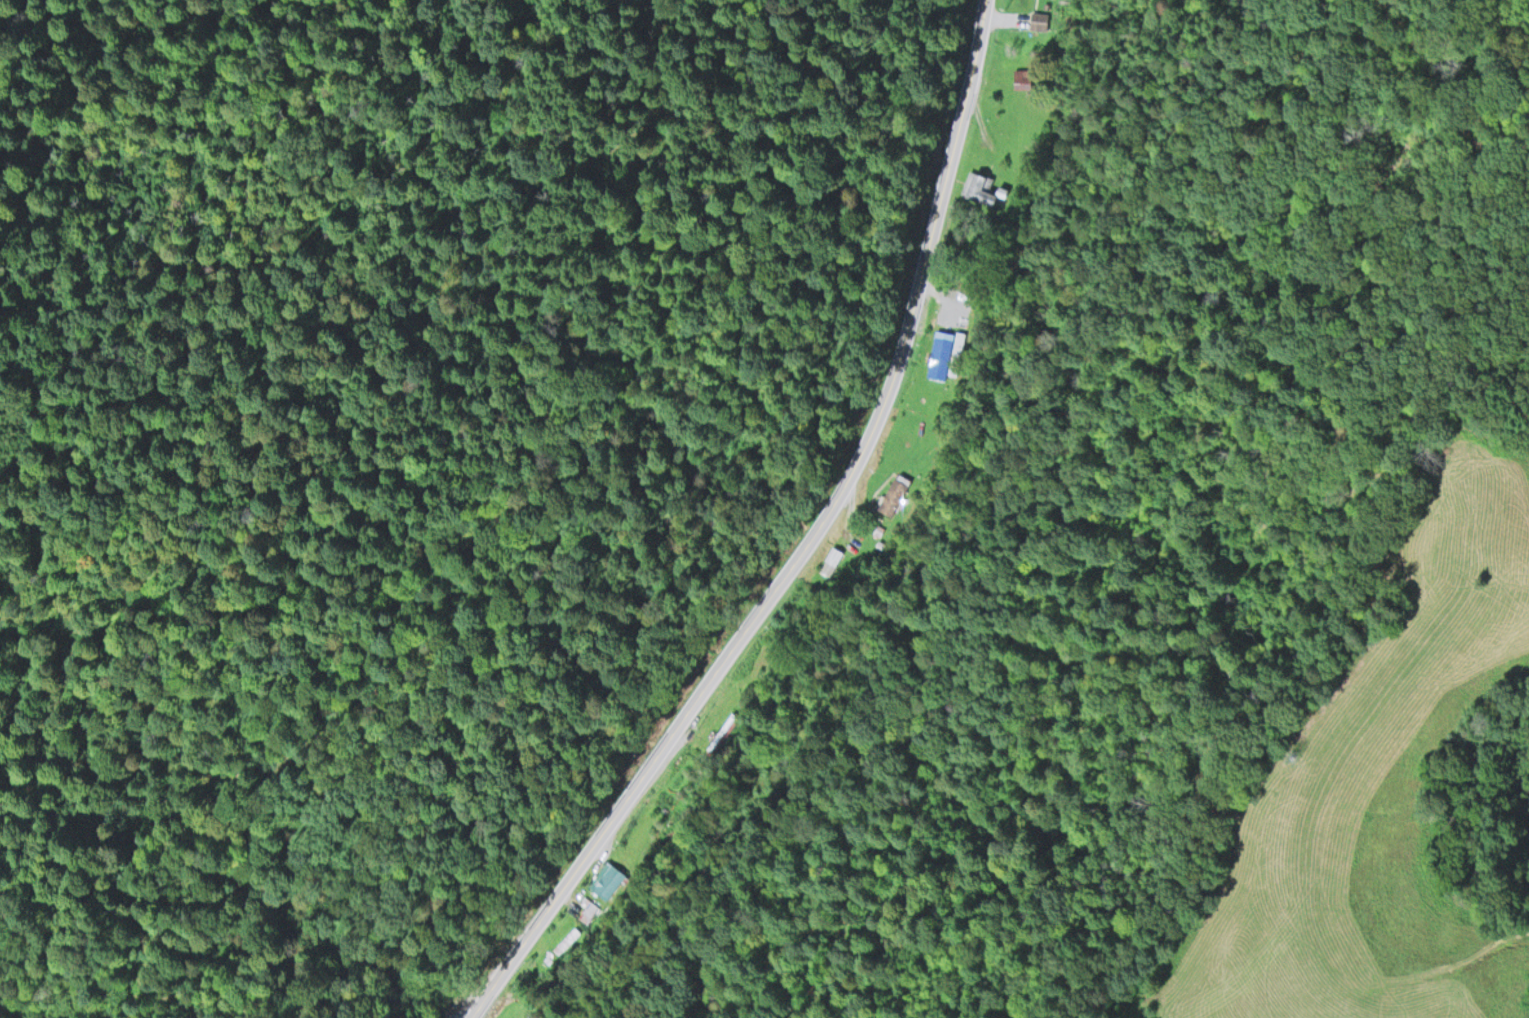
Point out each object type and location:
building: (1039, 18)
building: (1023, 77)
building: (977, 188)
building: (1004, 188)
building: (945, 353)
building: (894, 493)
road: (805, 541)
building: (834, 554)
building: (723, 731)
building: (607, 879)
road: (1408, 975)
parking lot: (460, 1004)

